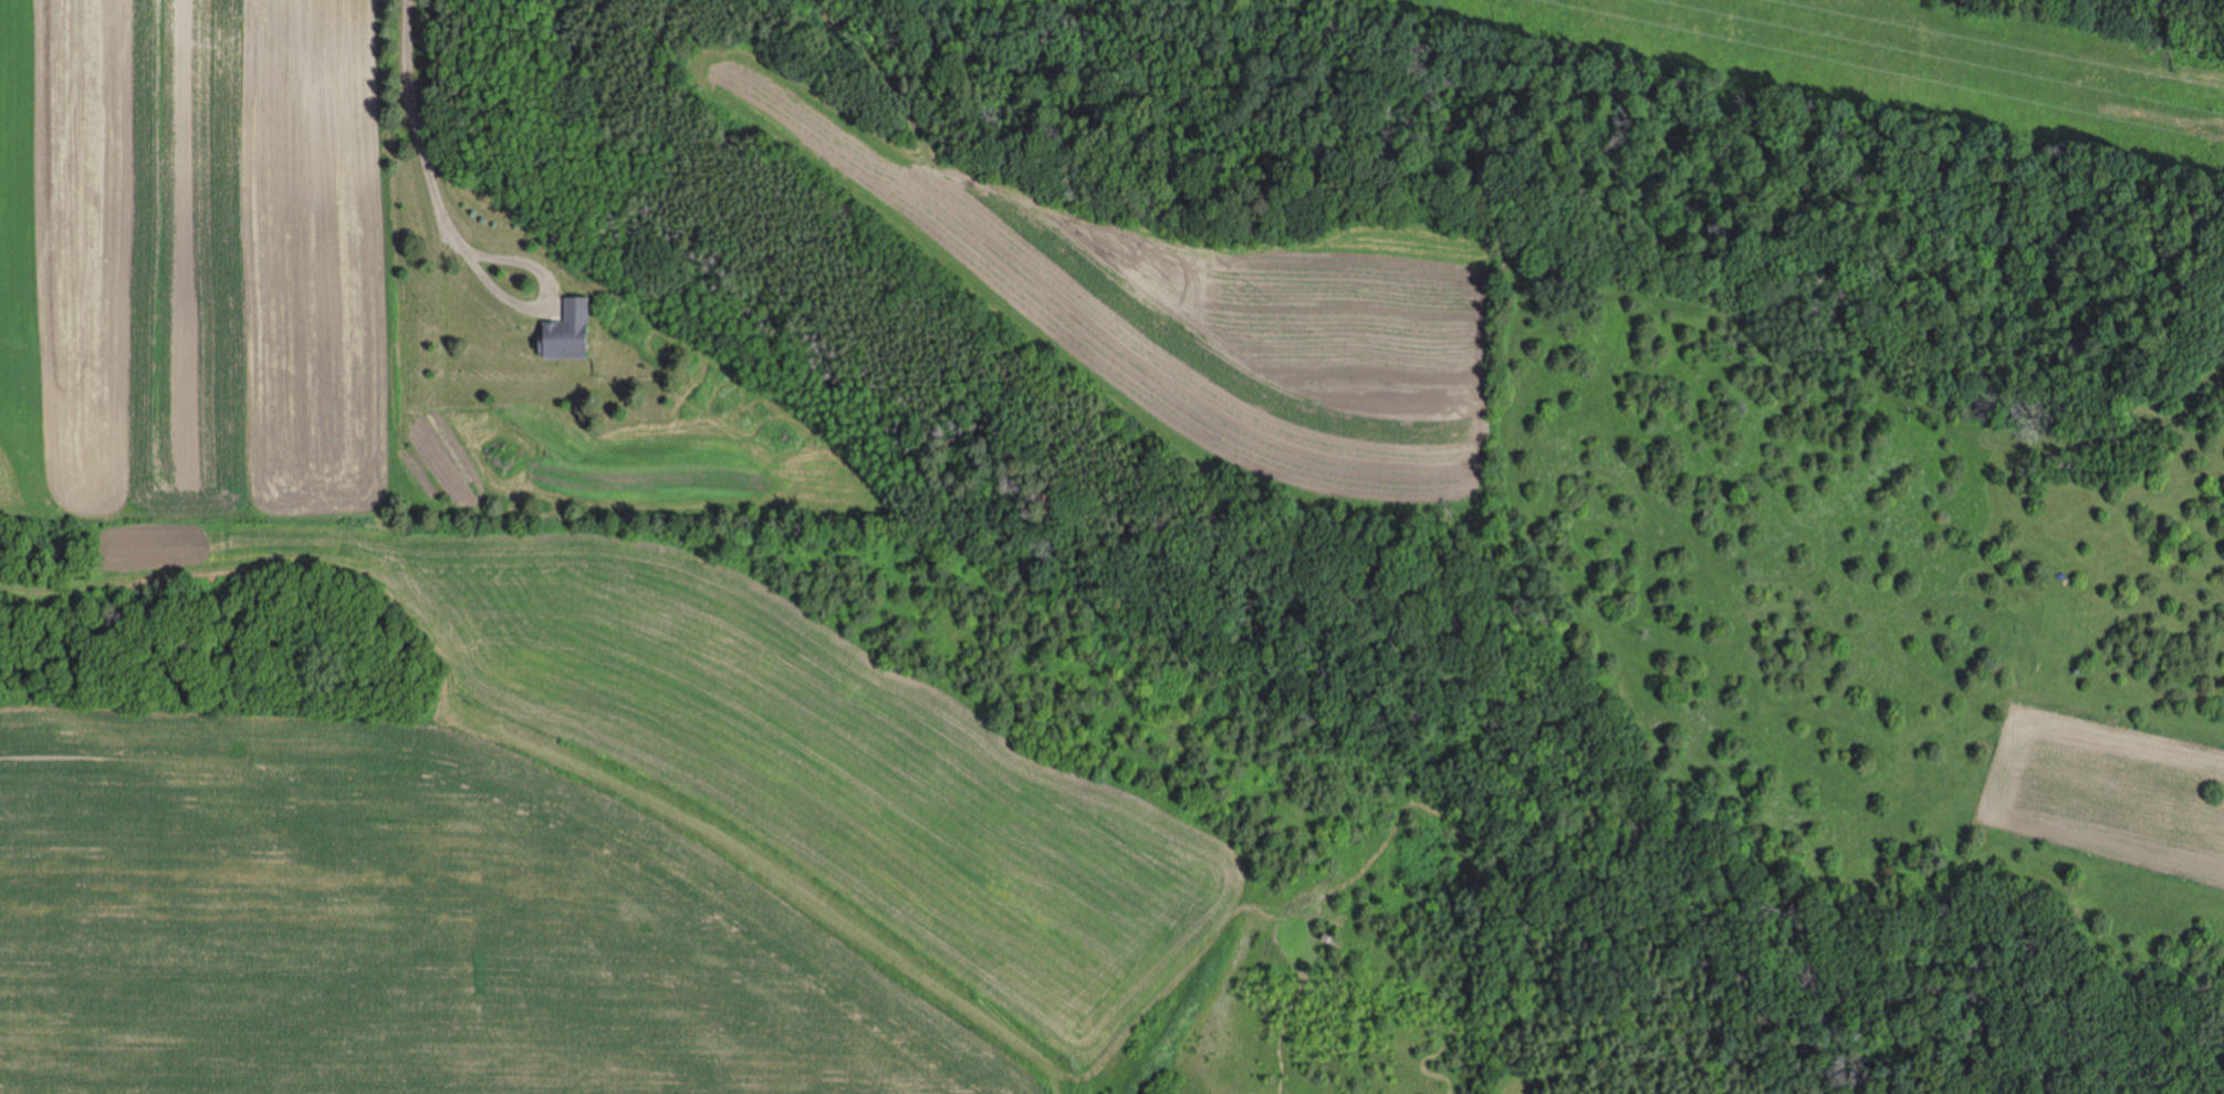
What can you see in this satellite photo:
road: (418, 129)
road: (550, 291)
building: (573, 330)

